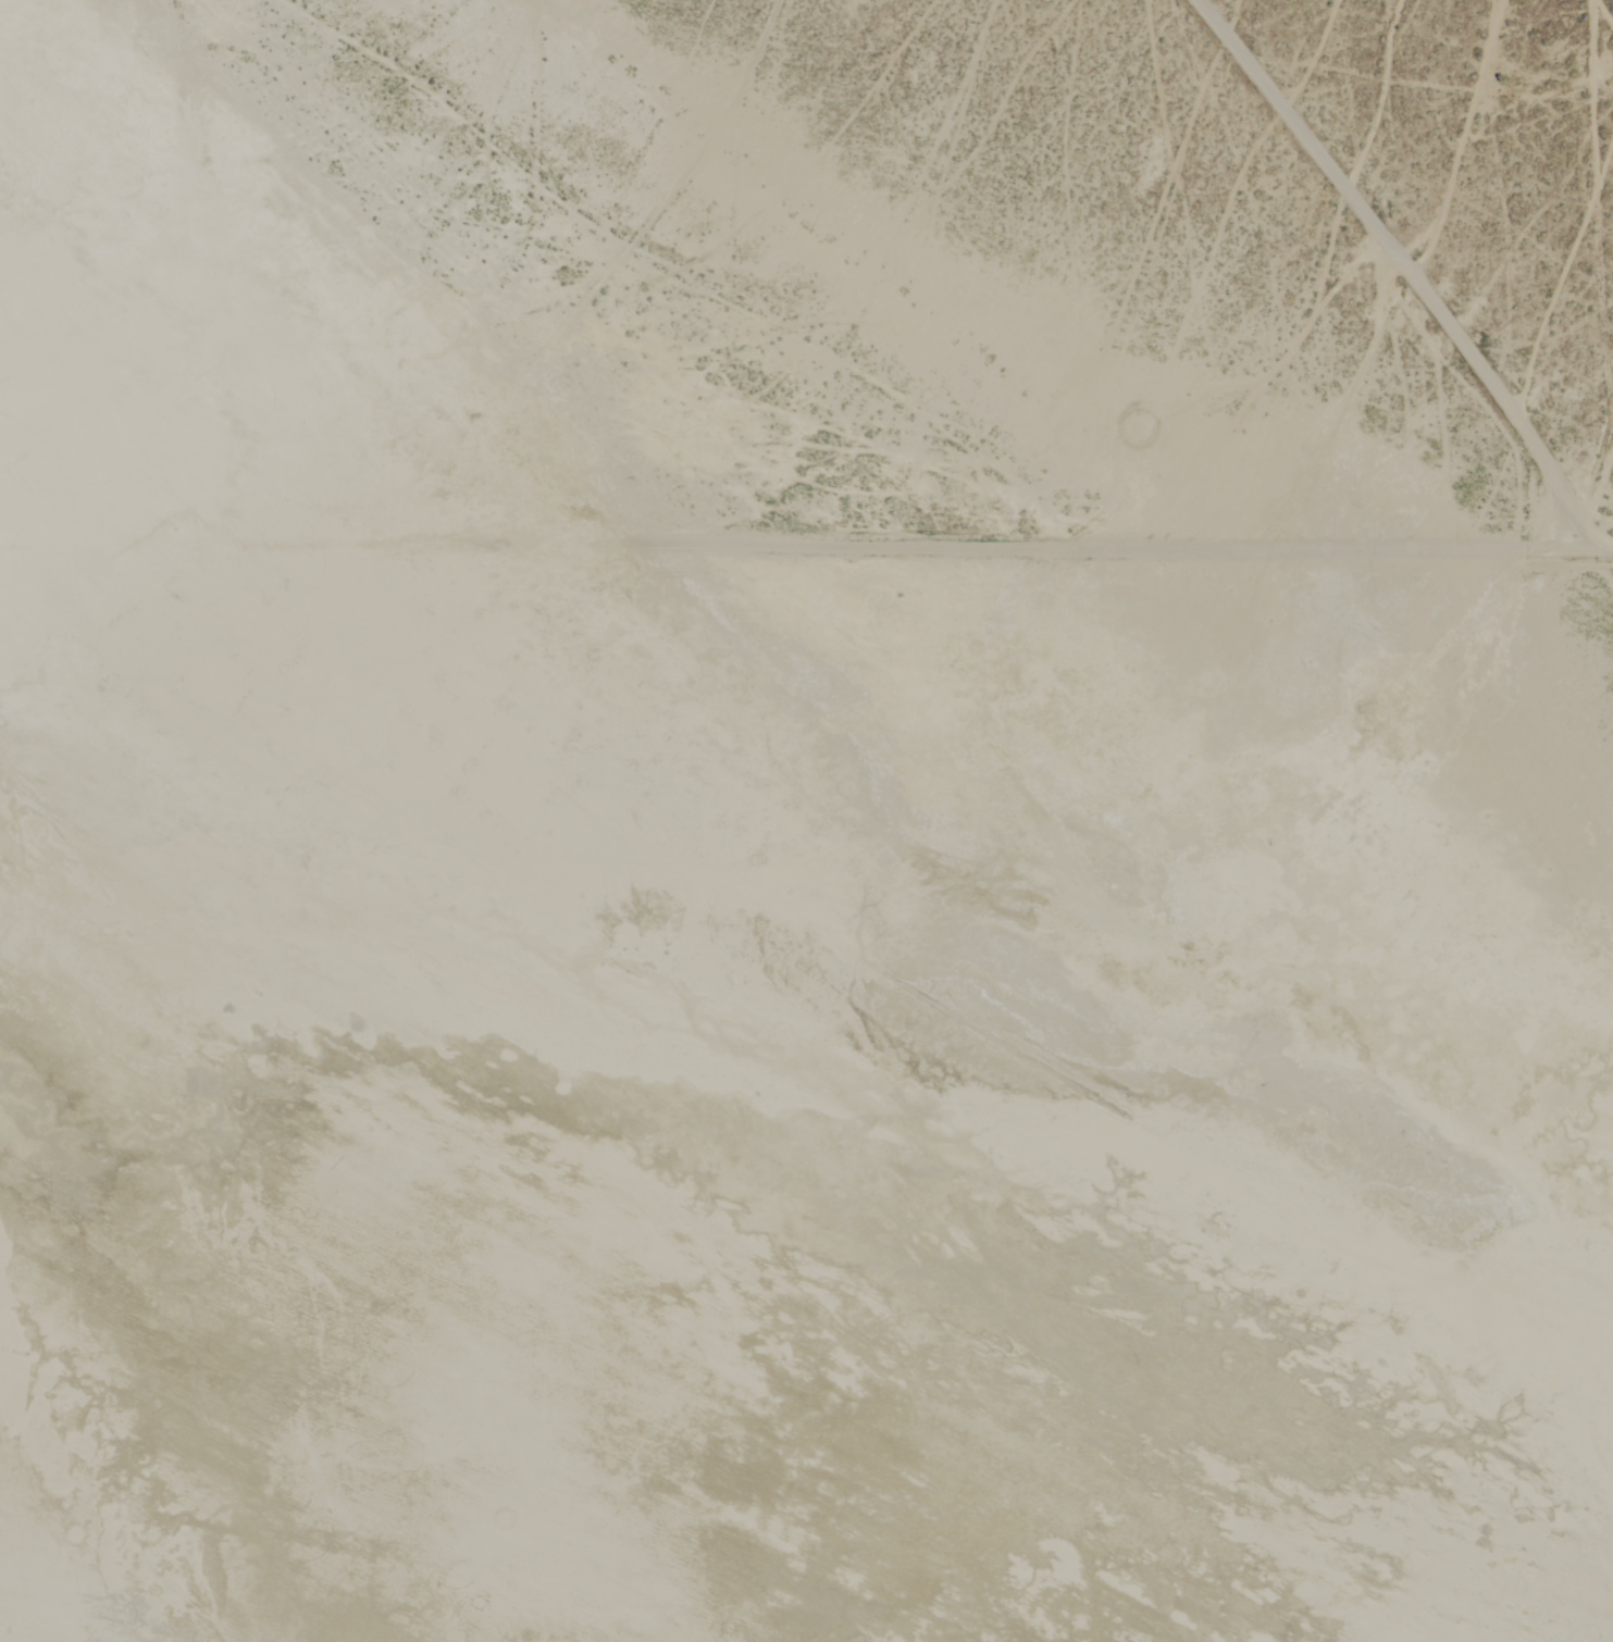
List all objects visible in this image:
road: (1409, 266)
road: (1608, 545)
road: (728, 1354)

